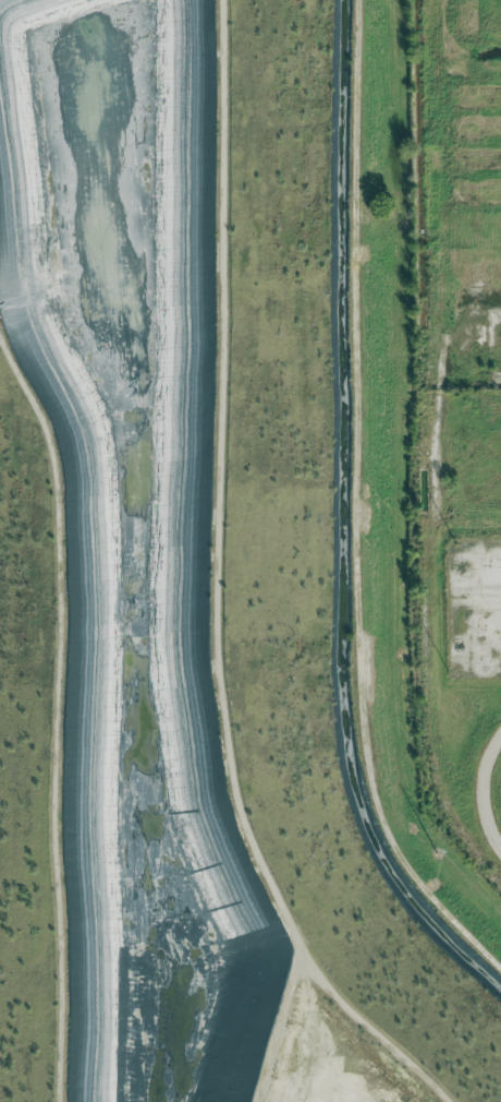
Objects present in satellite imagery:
railway: (425, 450)
road: (490, 792)

